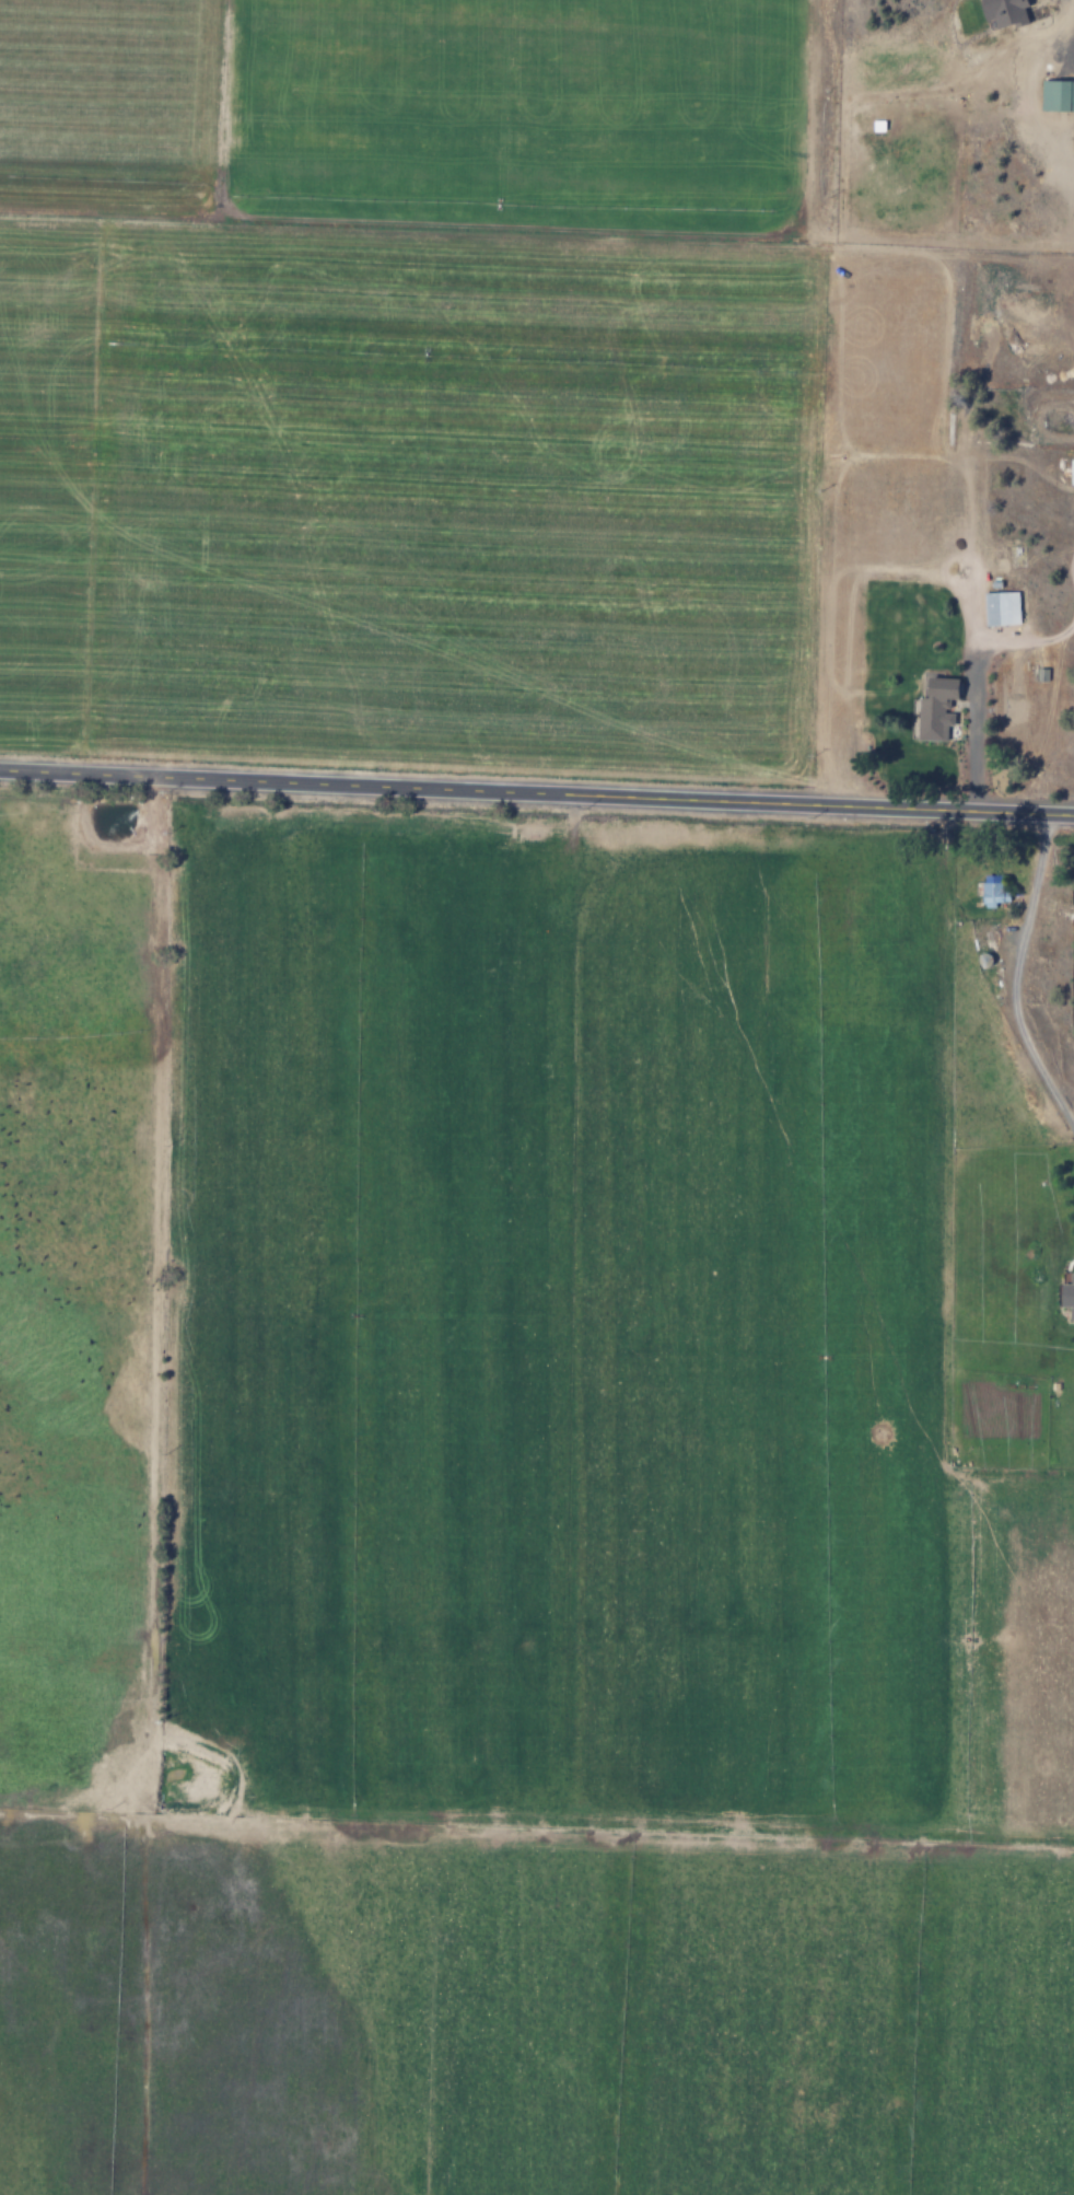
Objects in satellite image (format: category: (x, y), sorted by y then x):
building: (1002, 11)
building: (1055, 95)
crop: (412, 376)
building: (1071, 472)
building: (1000, 608)
building: (934, 709)
road: (537, 791)
building: (991, 892)
building: (1066, 1296)
crop: (534, 1509)

